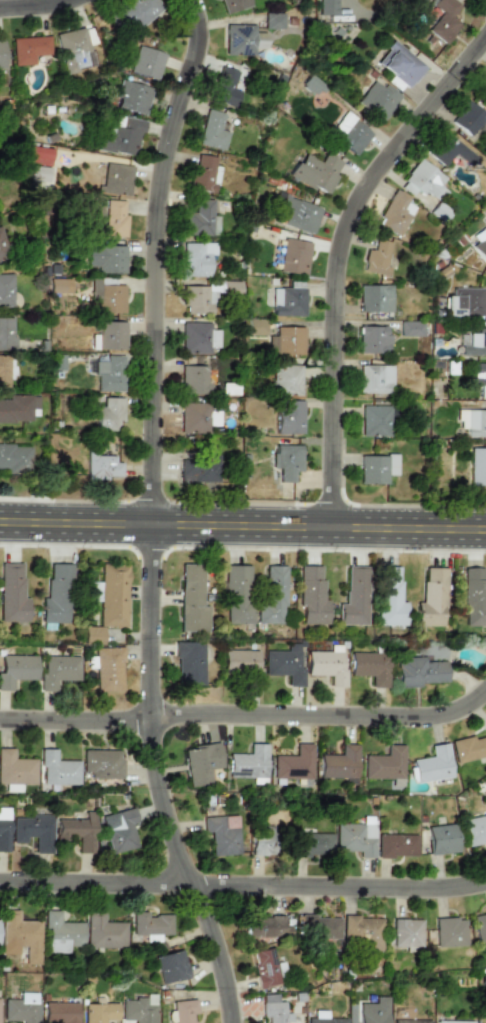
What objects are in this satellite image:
road: (484, 1)
road: (36, 4)
building: (233, 4)
building: (327, 7)
building: (136, 12)
building: (443, 19)
building: (273, 20)
building: (243, 39)
building: (28, 49)
building: (73, 49)
building: (1, 54)
building: (145, 62)
building: (400, 64)
building: (312, 84)
building: (225, 86)
building: (132, 97)
building: (378, 99)
building: (469, 118)
building: (212, 130)
building: (349, 133)
building: (120, 137)
building: (448, 149)
building: (38, 155)
building: (316, 171)
building: (37, 172)
building: (204, 174)
building: (116, 178)
building: (422, 181)
building: (41, 206)
building: (395, 213)
building: (114, 218)
building: (201, 219)
building: (480, 243)
building: (2, 247)
building: (293, 256)
building: (106, 257)
building: (197, 257)
road: (338, 258)
building: (377, 258)
building: (59, 285)
building: (5, 289)
building: (107, 296)
building: (198, 298)
building: (375, 298)
building: (288, 299)
building: (464, 302)
building: (256, 326)
building: (411, 328)
building: (6, 333)
building: (108, 335)
building: (198, 337)
building: (373, 339)
building: (286, 341)
building: (473, 342)
building: (5, 370)
building: (108, 372)
building: (480, 377)
building: (375, 378)
building: (285, 379)
building: (194, 380)
building: (19, 408)
building: (109, 414)
building: (288, 416)
building: (196, 417)
building: (374, 420)
building: (472, 421)
building: (15, 457)
building: (286, 461)
building: (101, 466)
building: (477, 466)
building: (377, 468)
building: (198, 469)
road: (145, 514)
road: (243, 523)
building: (94, 591)
building: (12, 593)
building: (56, 594)
building: (112, 594)
building: (237, 594)
building: (272, 594)
building: (312, 596)
building: (354, 597)
building: (389, 597)
building: (432, 597)
building: (474, 597)
building: (191, 599)
building: (93, 634)
building: (239, 660)
building: (189, 663)
building: (285, 664)
building: (327, 664)
building: (370, 667)
building: (107, 668)
building: (15, 669)
building: (57, 670)
building: (419, 671)
road: (246, 721)
building: (468, 748)
building: (101, 762)
building: (200, 762)
building: (248, 763)
building: (293, 763)
building: (384, 763)
building: (339, 764)
building: (432, 764)
building: (15, 768)
building: (57, 769)
building: (3, 829)
building: (475, 829)
building: (118, 830)
building: (32, 831)
building: (76, 832)
building: (220, 836)
building: (356, 837)
building: (442, 839)
building: (262, 840)
building: (311, 843)
building: (396, 845)
road: (243, 893)
building: (149, 923)
building: (264, 926)
building: (479, 926)
building: (321, 927)
building: (363, 930)
building: (102, 931)
building: (449, 931)
building: (406, 932)
building: (59, 933)
building: (20, 934)
building: (170, 967)
building: (266, 968)
building: (21, 1008)
building: (138, 1009)
building: (273, 1009)
building: (183, 1010)
building: (373, 1011)
building: (60, 1012)
building: (99, 1012)
building: (323, 1018)
building: (485, 1019)
building: (410, 1021)
building: (452, 1021)

